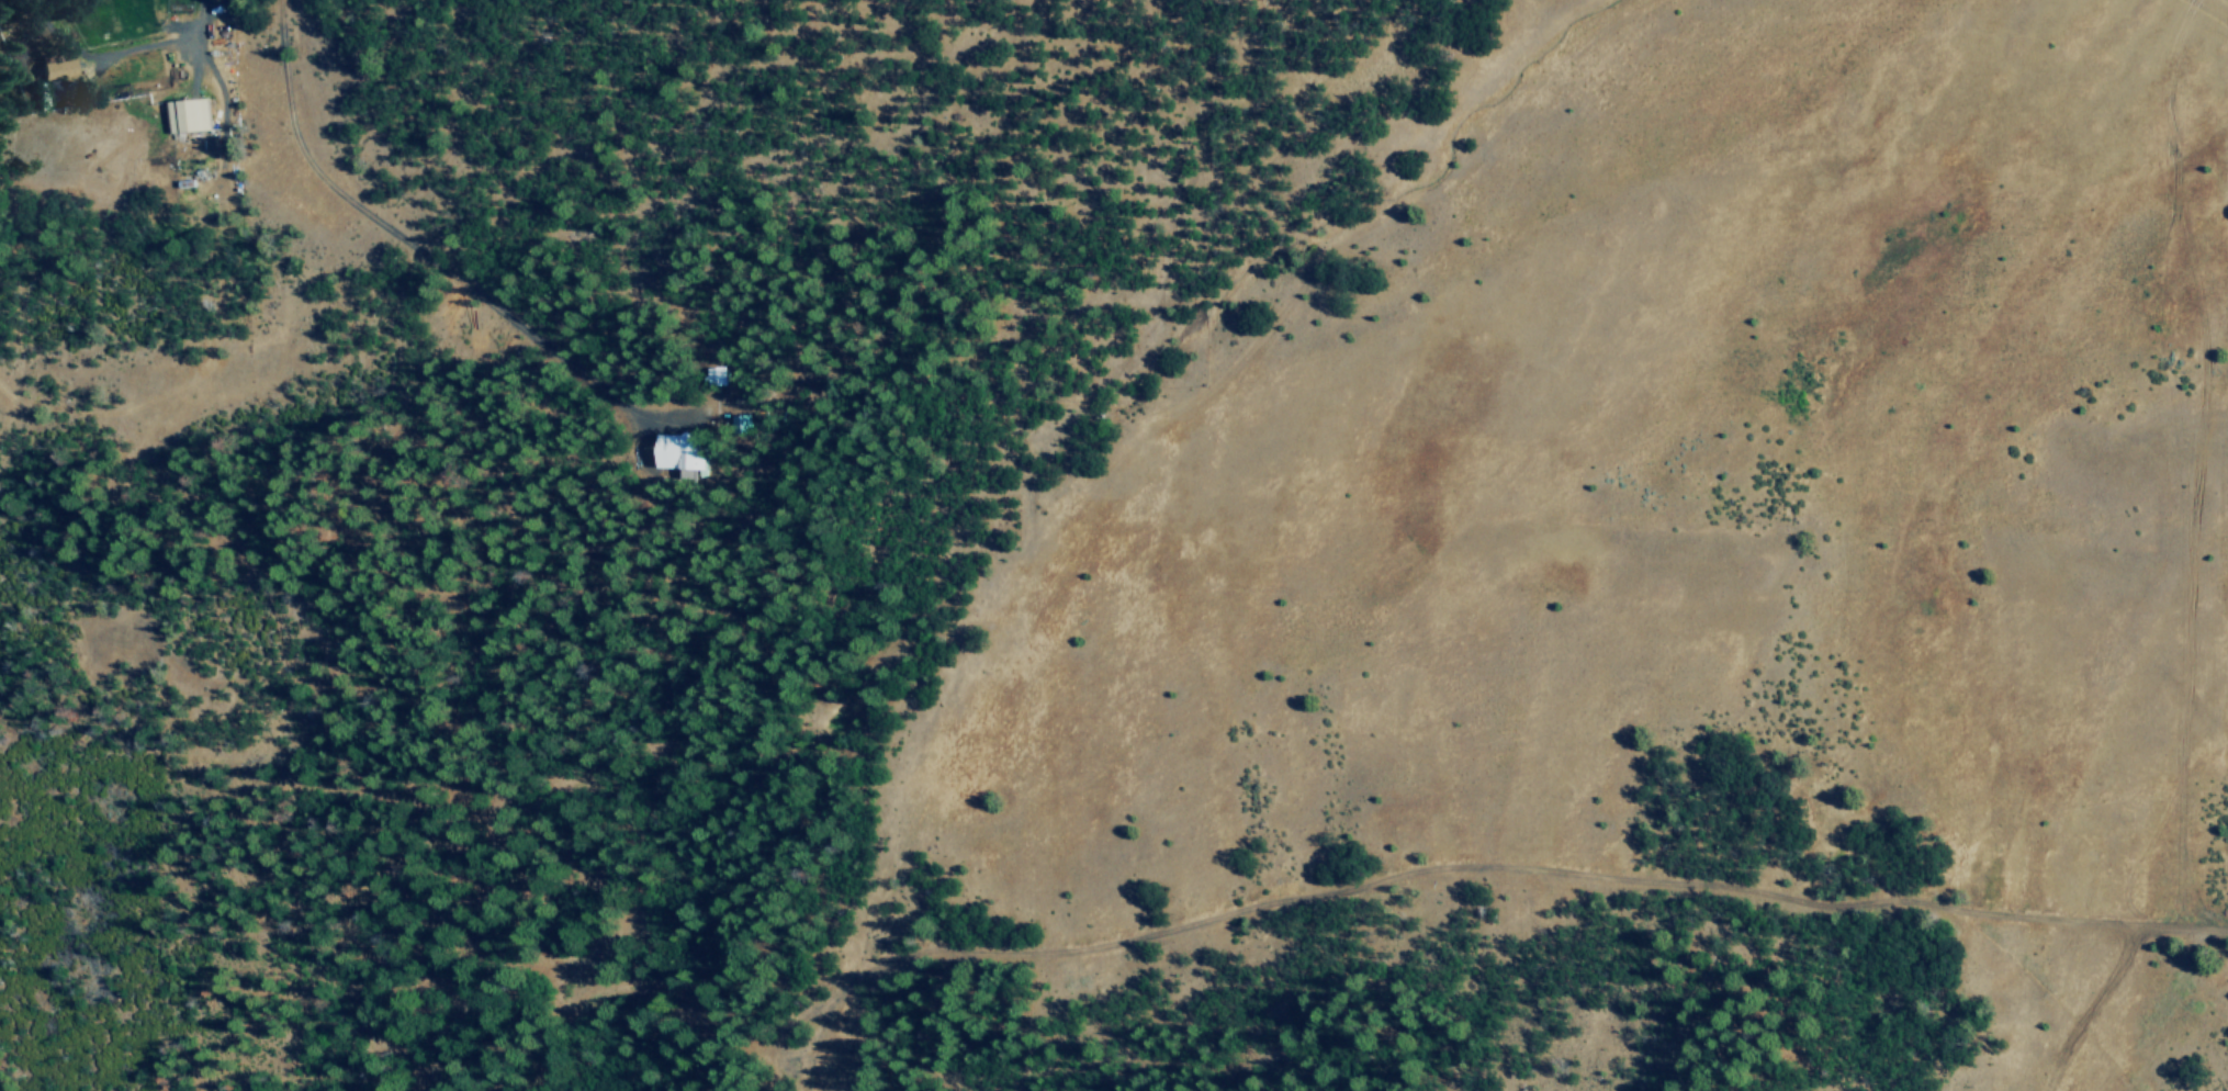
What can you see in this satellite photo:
building: (56, 68)
building: (46, 94)
building: (185, 114)
building: (716, 375)
building: (740, 423)
building: (678, 450)

